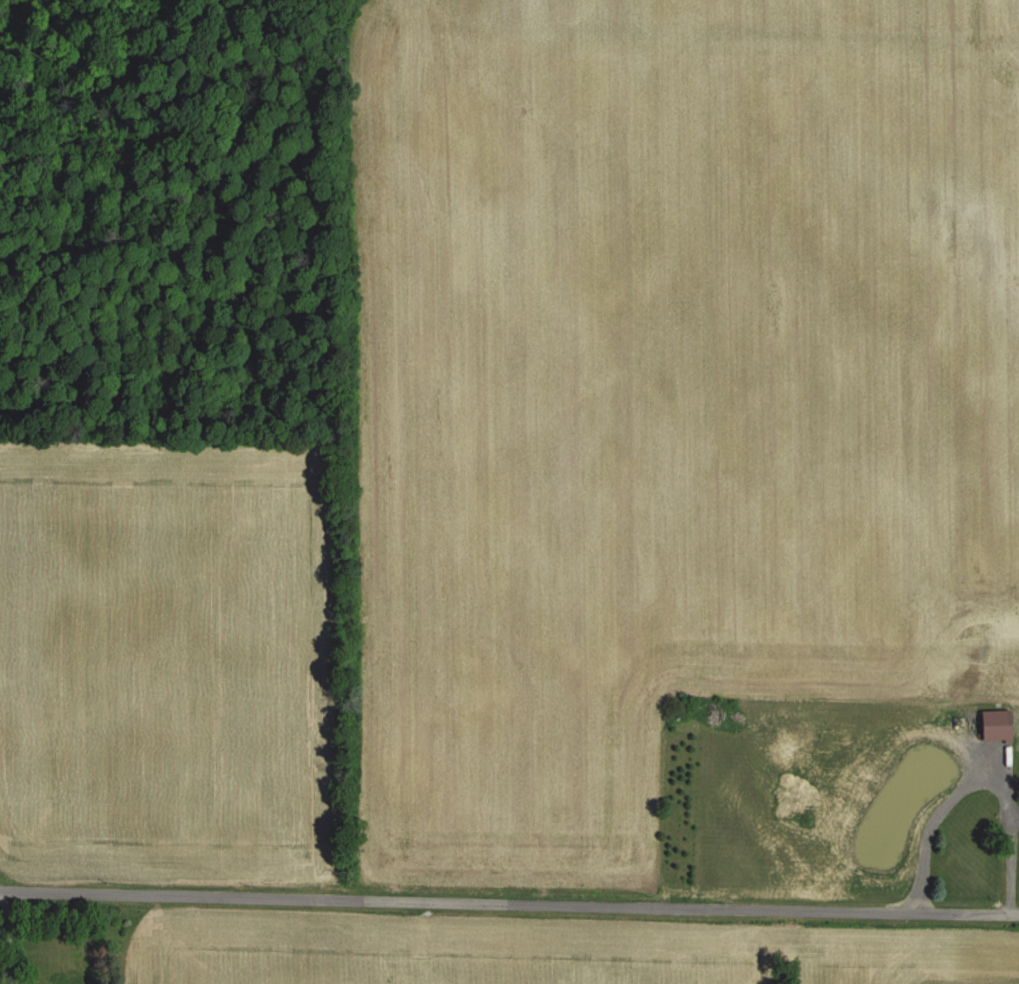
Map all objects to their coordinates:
road: (509, 905)

